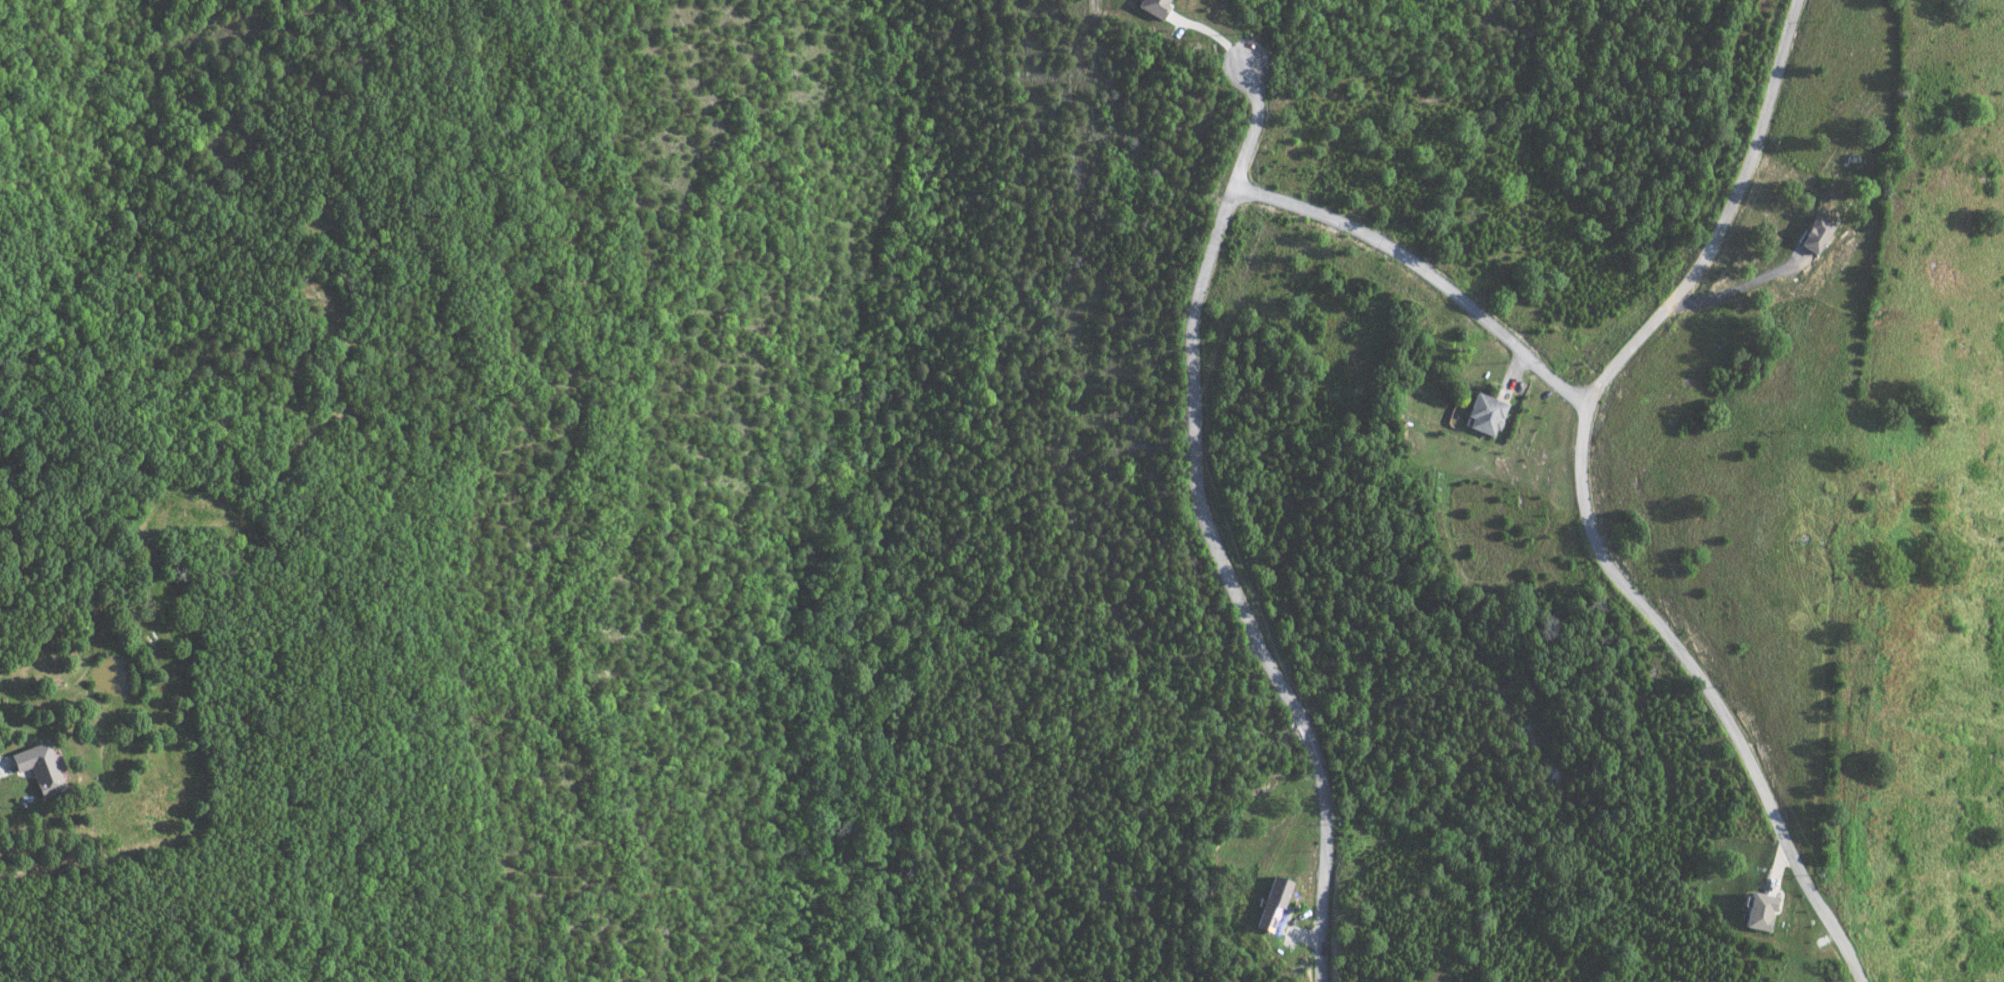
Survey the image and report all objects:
building: (1151, 7)
road: (1727, 214)
building: (1815, 235)
road: (1423, 272)
building: (1484, 415)
road: (1204, 527)
road: (1706, 681)
building: (35, 769)
building: (1271, 903)
building: (1757, 911)

